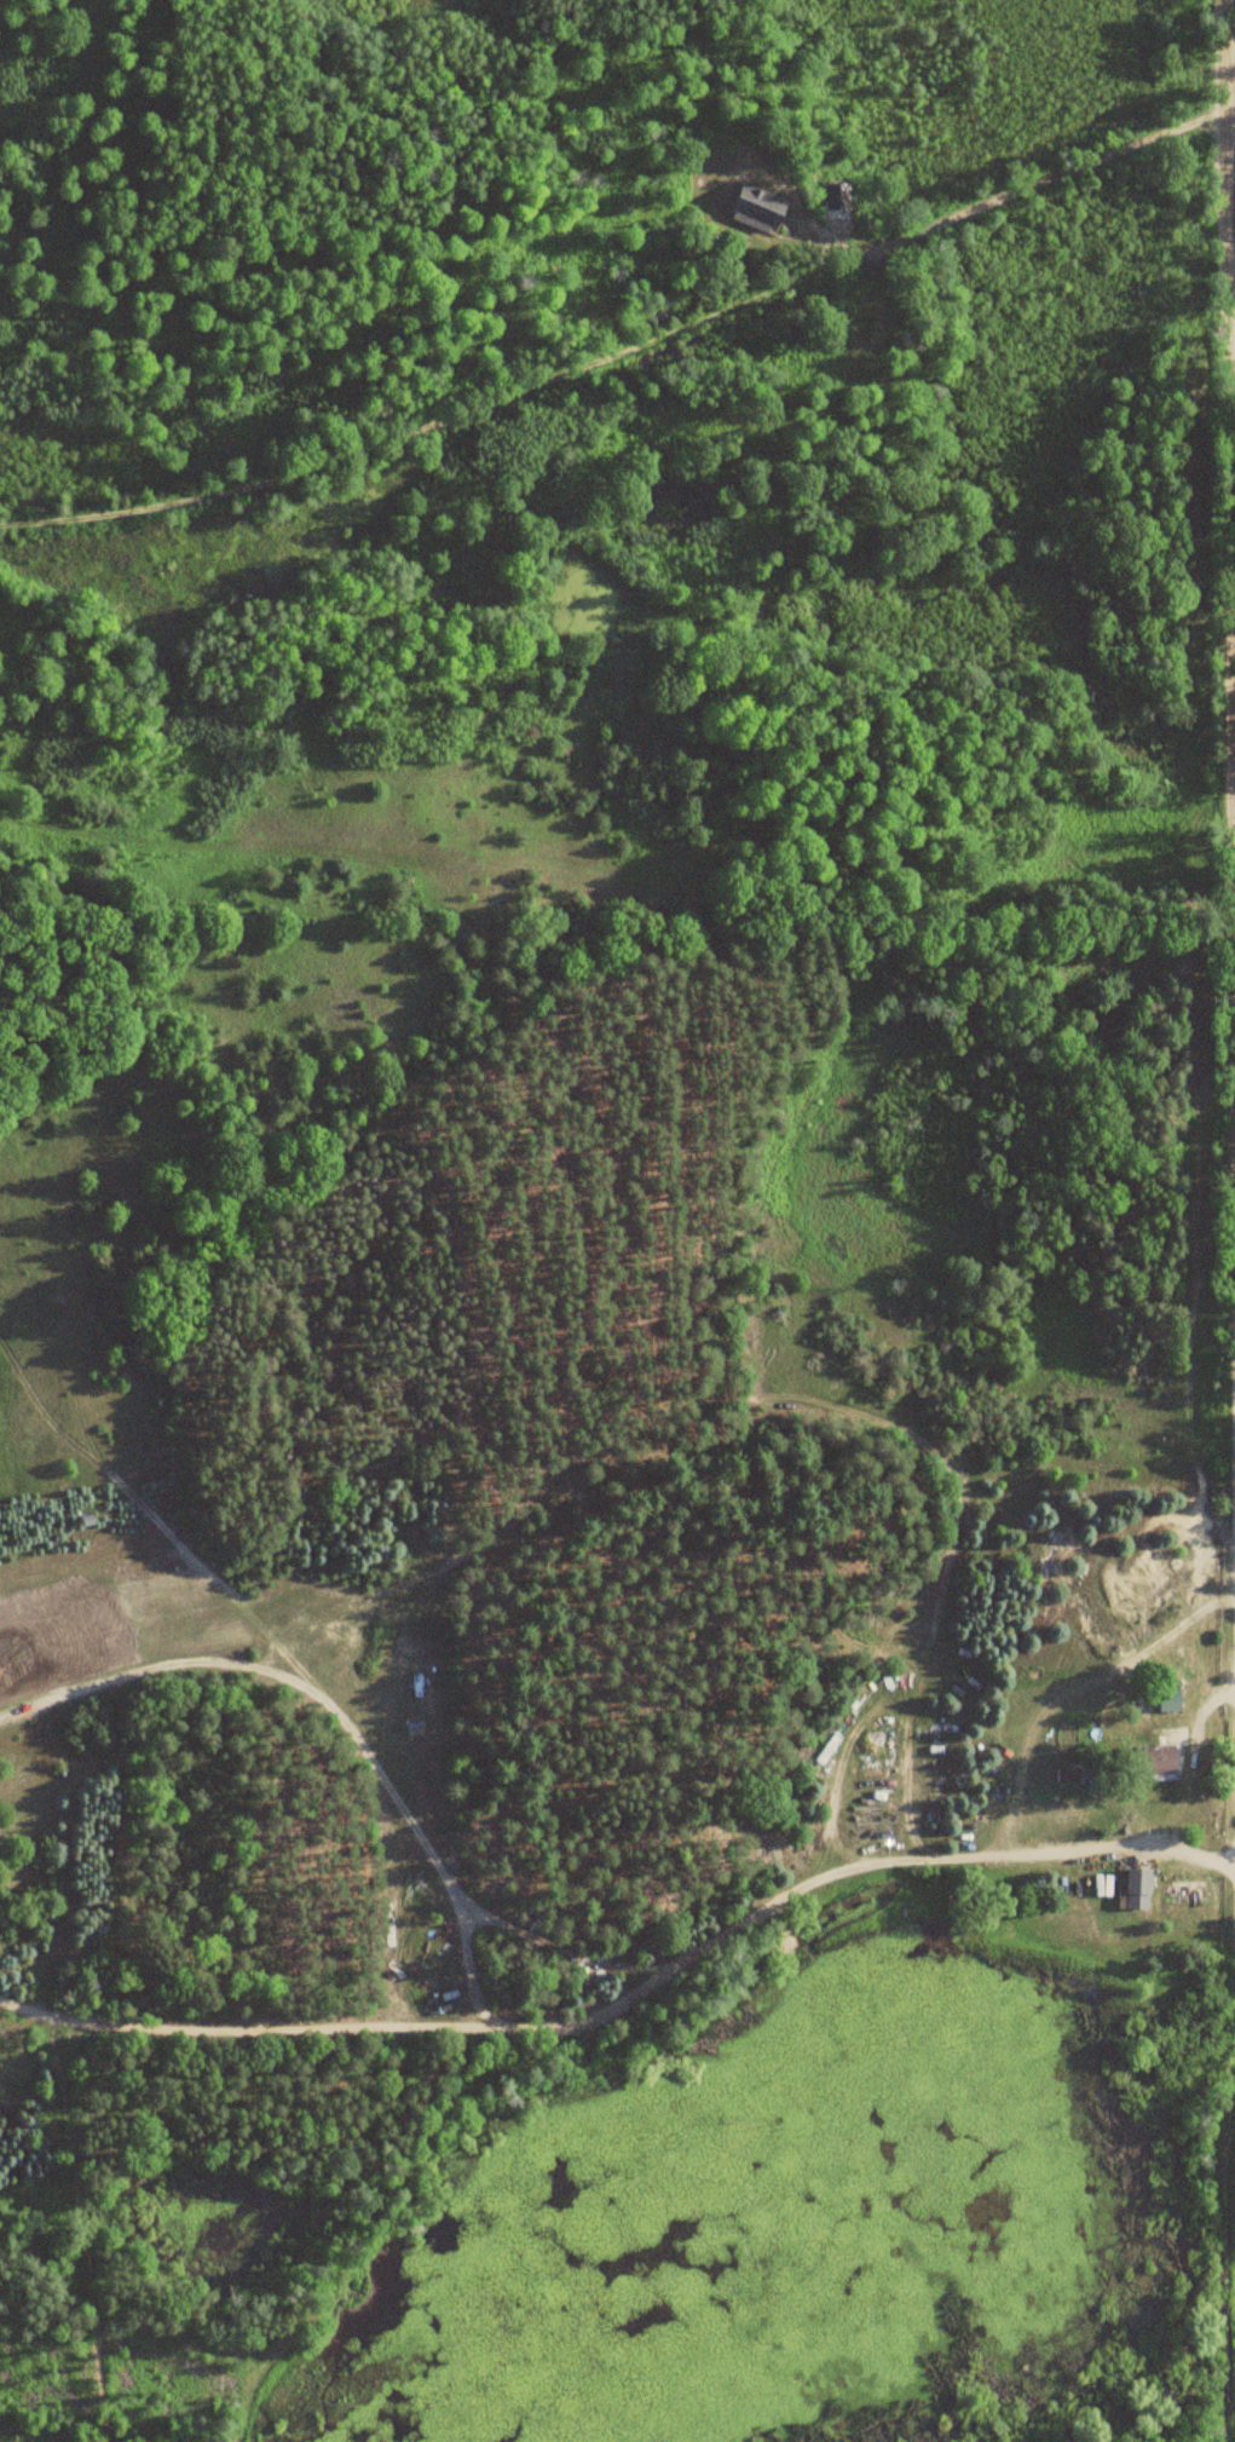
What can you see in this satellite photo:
road: (1231, 105)
building: (755, 208)
road: (1230, 394)
building: (1170, 1698)
building: (1152, 1763)
building: (1132, 1893)

